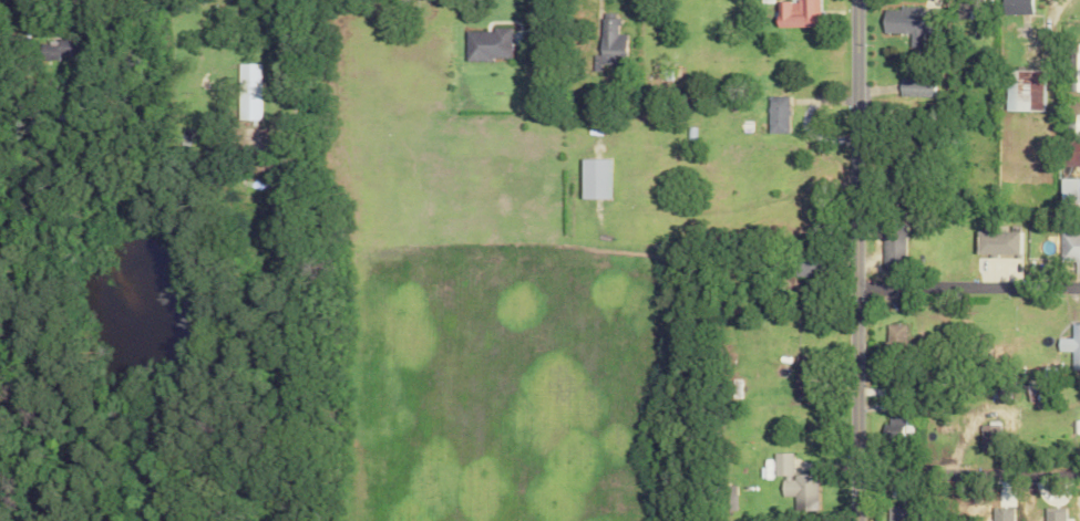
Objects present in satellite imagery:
building: (1012, 7)
building: (965, 9)
building: (793, 14)
building: (901, 23)
building: (606, 43)
building: (483, 44)
building: (60, 49)
building: (1072, 67)
building: (909, 90)
building: (1019, 91)
building: (246, 92)
building: (774, 115)
building: (1070, 143)
building: (589, 179)
building: (1064, 192)
building: (994, 243)
building: (891, 244)
building: (1069, 249)
road: (856, 260)
building: (800, 269)
road: (968, 284)
building: (893, 334)
building: (1070, 345)
road: (558, 356)
building: (799, 376)
building: (1038, 389)
building: (987, 435)
road: (968, 469)
building: (792, 478)
building: (895, 513)

